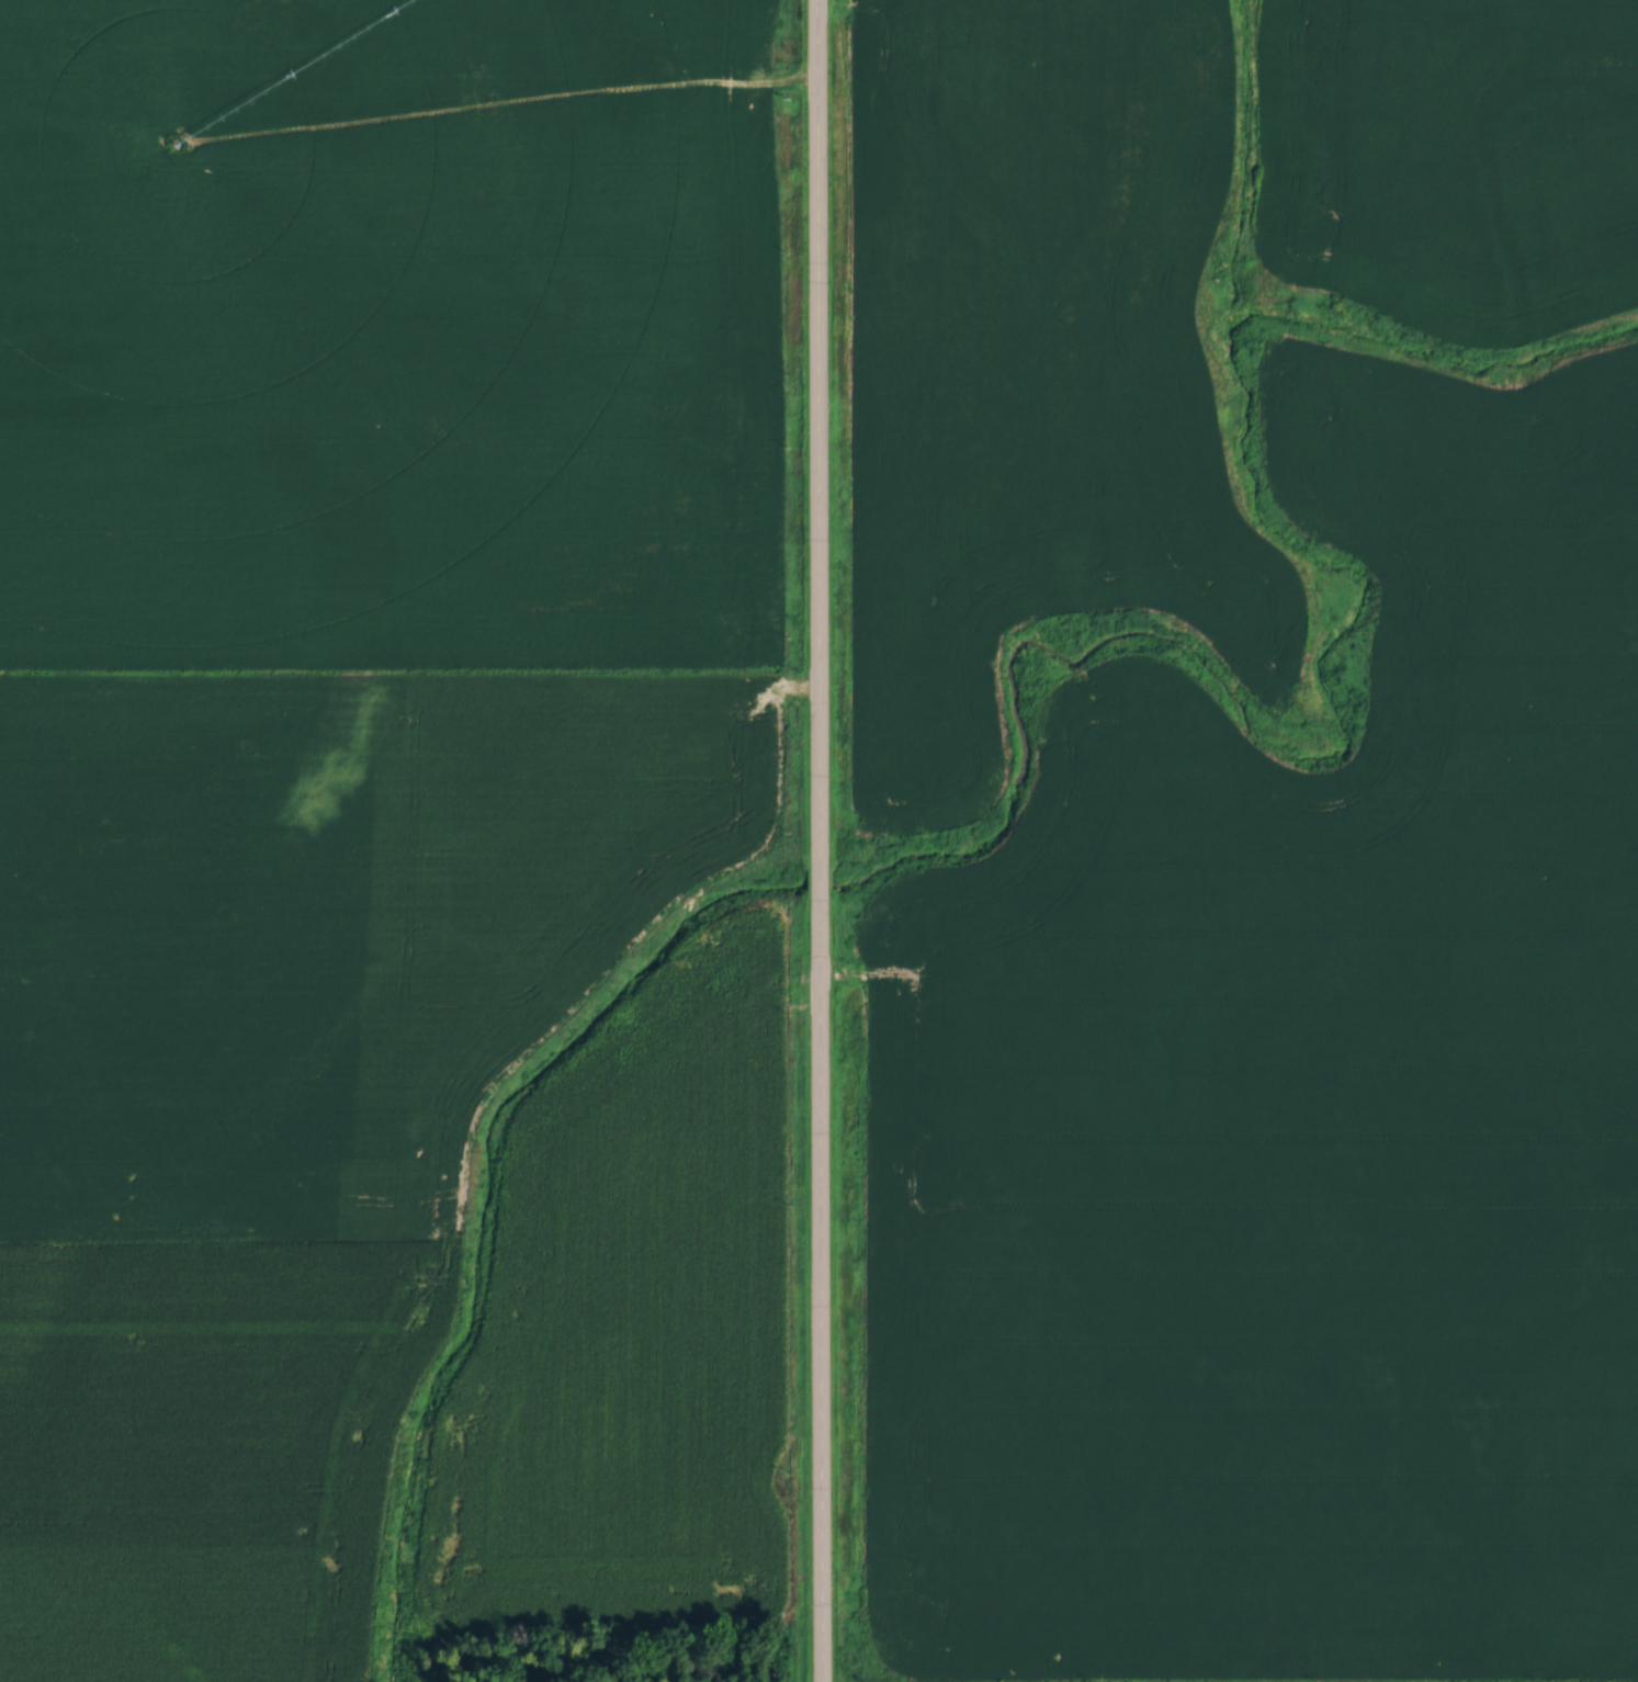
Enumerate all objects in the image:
road: (818, 840)

